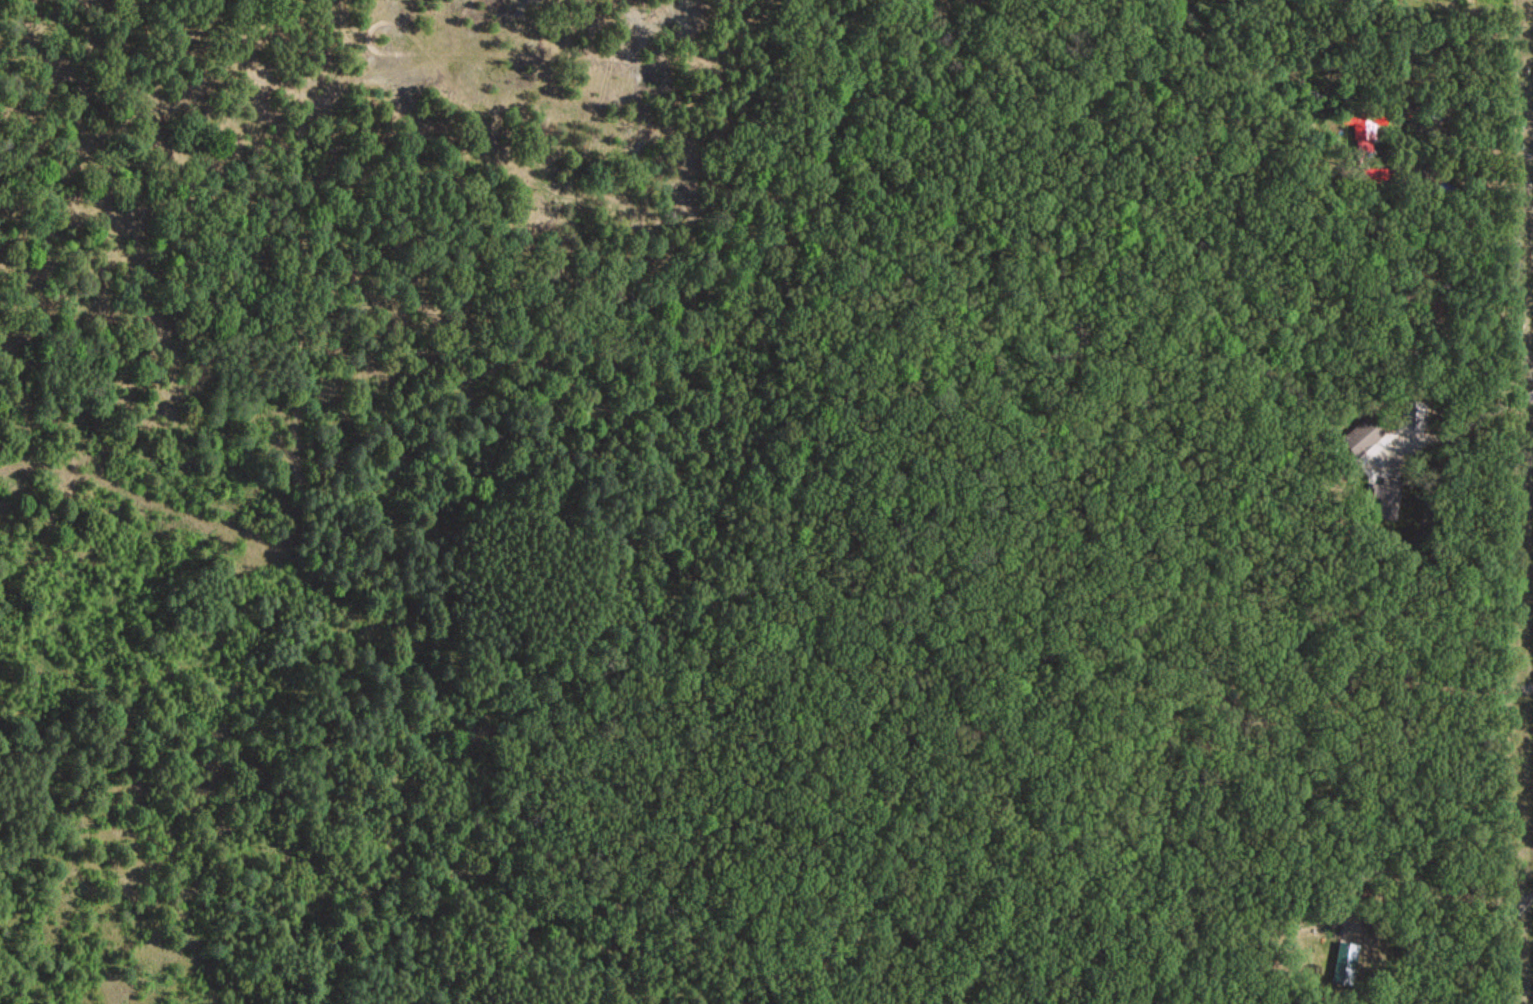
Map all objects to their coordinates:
building: (1362, 126)
building: (1360, 435)
building: (1388, 496)
building: (1345, 959)

